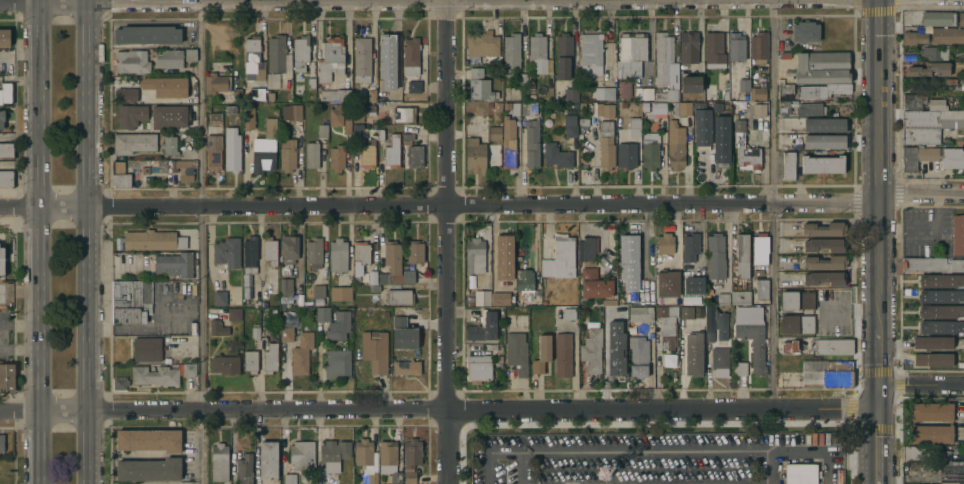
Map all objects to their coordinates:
road: (90, 1)
road: (277, 1)
building: (938, 17)
building: (961, 18)
building: (805, 30)
building: (147, 33)
building: (947, 35)
building: (5, 37)
building: (913, 37)
building: (482, 43)
building: (736, 45)
building: (758, 45)
building: (632, 46)
building: (688, 46)
building: (386, 48)
building: (714, 48)
building: (935, 51)
building: (301, 52)
building: (511, 52)
building: (537, 52)
building: (276, 53)
building: (591, 53)
building: (190, 54)
building: (563, 55)
building: (169, 58)
building: (331, 58)
building: (253, 59)
building: (362, 59)
building: (497, 59)
building: (131, 60)
building: (411, 63)
building: (820, 66)
building: (665, 67)
building: (928, 68)
building: (624, 71)
building: (522, 78)
building: (950, 80)
building: (216, 81)
building: (284, 82)
building: (311, 82)
building: (690, 83)
building: (480, 84)
building: (744, 84)
building: (164, 87)
building: (786, 88)
building: (237, 90)
building: (822, 90)
building: (6, 91)
building: (602, 91)
building: (758, 91)
building: (247, 92)
building: (644, 92)
building: (126, 93)
building: (257, 93)
building: (336, 94)
building: (372, 94)
building: (572, 94)
building: (271, 95)
building: (922, 102)
building: (490, 104)
building: (507, 105)
building: (497, 106)
building: (783, 106)
building: (529, 107)
building: (658, 107)
building: (669, 107)
building: (682, 107)
building: (229, 108)
building: (515, 108)
building: (809, 108)
building: (717, 109)
building: (759, 109)
building: (361, 110)
building: (603, 110)
building: (292, 111)
building: (403, 113)
building: (130, 114)
building: (336, 114)
building: (169, 115)
building: (215, 115)
building: (248, 116)
building: (2, 118)
building: (932, 119)
building: (583, 121)
building: (825, 123)
building: (347, 124)
building: (570, 125)
building: (702, 125)
building: (634, 126)
building: (323, 129)
building: (355, 132)
building: (381, 133)
building: (495, 133)
building: (920, 135)
building: (407, 137)
building: (721, 138)
building: (824, 140)
building: (508, 141)
building: (133, 142)
building: (606, 143)
building: (169, 144)
building: (532, 144)
building: (675, 144)
building: (265, 147)
building: (232, 148)
building: (6, 149)
building: (745, 149)
building: (650, 150)
building: (213, 151)
building: (392, 151)
building: (288, 153)
building: (312, 153)
building: (626, 154)
building: (367, 155)
building: (415, 155)
building: (475, 155)
building: (557, 155)
building: (932, 156)
building: (336, 157)
building: (822, 163)
building: (788, 165)
building: (176, 167)
building: (125, 173)
building: (6, 178)
road: (920, 193)
road: (775, 203)
road: (439, 206)
building: (824, 228)
building: (958, 228)
building: (152, 239)
road: (39, 241)
road: (203, 241)
road: (92, 242)
road: (446, 242)
building: (665, 242)
road: (878, 242)
building: (824, 243)
building: (690, 246)
building: (760, 247)
building: (289, 248)
building: (958, 248)
building: (270, 249)
building: (632, 249)
building: (415, 250)
building: (589, 250)
building: (227, 251)
building: (314, 251)
building: (250, 253)
building: (338, 254)
building: (475, 254)
building: (742, 254)
building: (361, 255)
building: (715, 255)
building: (560, 257)
building: (2, 260)
building: (825, 261)
building: (391, 263)
building: (932, 263)
building: (174, 264)
building: (286, 269)
building: (368, 276)
building: (408, 276)
building: (823, 277)
building: (504, 278)
building: (940, 279)
building: (269, 281)
building: (525, 282)
building: (542, 282)
building: (595, 283)
building: (667, 283)
building: (694, 284)
building: (245, 286)
building: (375, 287)
building: (285, 290)
building: (761, 290)
building: (317, 291)
building: (341, 292)
building: (265, 293)
building: (131, 294)
building: (941, 295)
building: (400, 296)
building: (740, 296)
building: (219, 297)
building: (482, 297)
building: (723, 298)
building: (796, 298)
building: (469, 299)
building: (496, 299)
building: (941, 310)
building: (613, 312)
building: (641, 312)
building: (685, 312)
building: (234, 313)
building: (323, 313)
building: (130, 314)
building: (266, 319)
building: (797, 323)
building: (339, 325)
building: (667, 325)
building: (483, 326)
building: (721, 326)
building: (941, 326)
building: (217, 327)
building: (256, 331)
building: (287, 333)
building: (709, 333)
building: (751, 333)
building: (403, 338)
building: (933, 341)
building: (830, 345)
building: (147, 347)
building: (789, 347)
building: (616, 348)
building: (375, 349)
building: (592, 349)
building: (517, 351)
building: (302, 352)
building: (542, 353)
building: (563, 354)
building: (693, 354)
building: (638, 356)
building: (270, 357)
building: (933, 358)
building: (668, 359)
building: (719, 359)
building: (250, 360)
building: (337, 362)
building: (477, 362)
building: (225, 363)
building: (826, 365)
building: (404, 366)
building: (739, 367)
building: (189, 368)
building: (154, 375)
building: (7, 377)
building: (827, 378)
building: (120, 382)
road: (921, 384)
road: (439, 409)
building: (930, 410)
building: (930, 433)
building: (149, 439)
building: (1, 441)
road: (44, 447)
building: (387, 451)
road: (487, 452)
road: (644, 452)
building: (913, 452)
building: (334, 453)
building: (302, 454)
road: (824, 454)
building: (411, 457)
building: (268, 458)
building: (367, 459)
building: (219, 461)
building: (148, 468)
building: (244, 469)
road: (827, 469)
building: (950, 471)
building: (800, 473)
building: (305, 476)
building: (396, 477)
building: (290, 478)
building: (361, 479)

